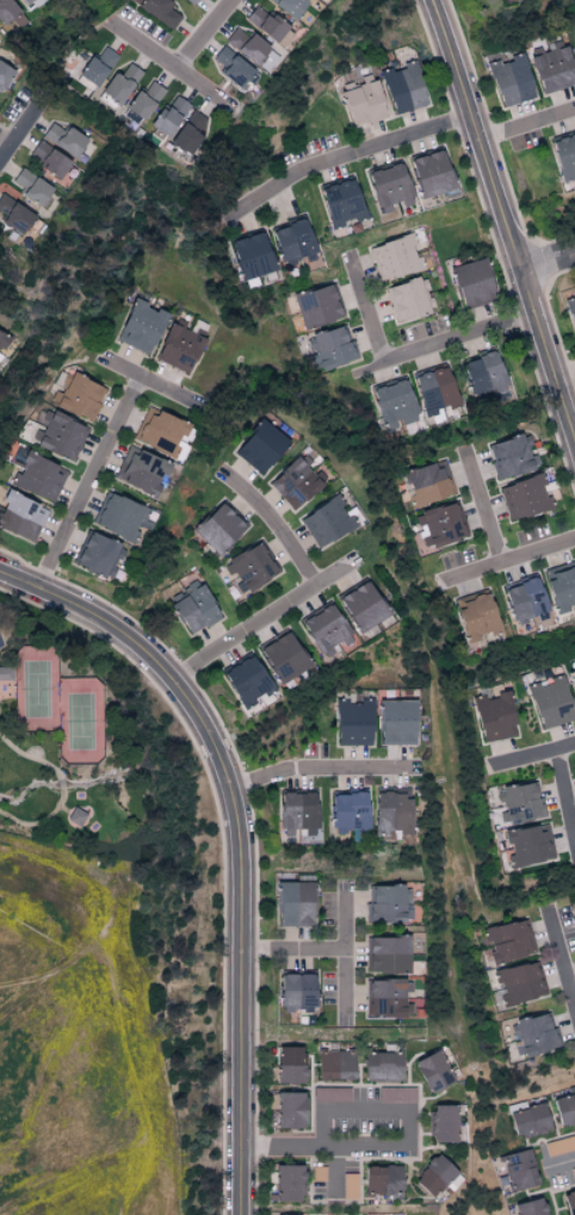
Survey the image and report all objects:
building: (319, 0)
building: (191, 1)
building: (30, 2)
building: (290, 7)
building: (160, 12)
building: (8, 13)
building: (268, 26)
road: (208, 35)
building: (252, 49)
building: (98, 67)
road: (178, 67)
building: (233, 68)
building: (554, 68)
building: (4, 75)
building: (511, 80)
building: (120, 84)
building: (403, 88)
building: (146, 99)
building: (363, 104)
building: (169, 117)
road: (525, 124)
road: (21, 128)
building: (190, 132)
building: (64, 140)
road: (5, 143)
building: (564, 156)
road: (339, 158)
building: (50, 160)
building: (431, 174)
building: (31, 187)
building: (389, 187)
building: (340, 203)
building: (14, 216)
road: (502, 222)
building: (292, 242)
building: (251, 257)
building: (396, 258)
road: (548, 265)
building: (472, 284)
building: (410, 300)
building: (317, 307)
road: (365, 309)
building: (571, 310)
building: (141, 327)
building: (2, 341)
road: (441, 344)
building: (179, 346)
building: (330, 349)
building: (483, 375)
road: (564, 376)
road: (152, 383)
building: (434, 391)
building: (79, 397)
building: (392, 405)
building: (163, 434)
building: (60, 436)
building: (261, 448)
building: (514, 456)
building: (141, 471)
building: (39, 477)
building: (297, 482)
road: (88, 483)
building: (428, 483)
building: (525, 498)
road: (483, 507)
building: (20, 517)
building: (122, 517)
building: (328, 522)
building: (441, 524)
building: (220, 528)
road: (274, 528)
building: (98, 554)
road: (507, 561)
building: (253, 565)
building: (561, 586)
building: (525, 599)
building: (363, 605)
building: (194, 607)
building: (477, 616)
road: (262, 618)
building: (326, 629)
building: (284, 656)
building: (6, 672)
building: (246, 679)
building: (573, 679)
building: (550, 702)
building: (494, 716)
building: (396, 721)
building: (353, 722)
road: (530, 754)
road: (323, 767)
road: (67, 788)
road: (564, 798)
building: (521, 801)
building: (348, 810)
building: (391, 810)
building: (297, 812)
building: (76, 815)
road: (239, 837)
building: (527, 844)
road: (220, 850)
building: (295, 902)
building: (390, 903)
building: (508, 940)
road: (291, 950)
building: (388, 952)
road: (345, 960)
road: (559, 961)
road: (570, 976)
building: (520, 982)
building: (297, 992)
building: (388, 997)
building: (537, 1034)
building: (290, 1063)
building: (335, 1065)
building: (383, 1066)
building: (432, 1071)
building: (330, 1093)
building: (396, 1093)
building: (564, 1109)
building: (290, 1110)
road: (364, 1111)
building: (528, 1120)
building: (443, 1123)
building: (559, 1143)
road: (322, 1147)
road: (558, 1164)
building: (519, 1168)
road: (332, 1172)
building: (317, 1173)
building: (434, 1176)
building: (383, 1179)
building: (289, 1183)
building: (350, 1185)
building: (569, 1202)
building: (531, 1207)

